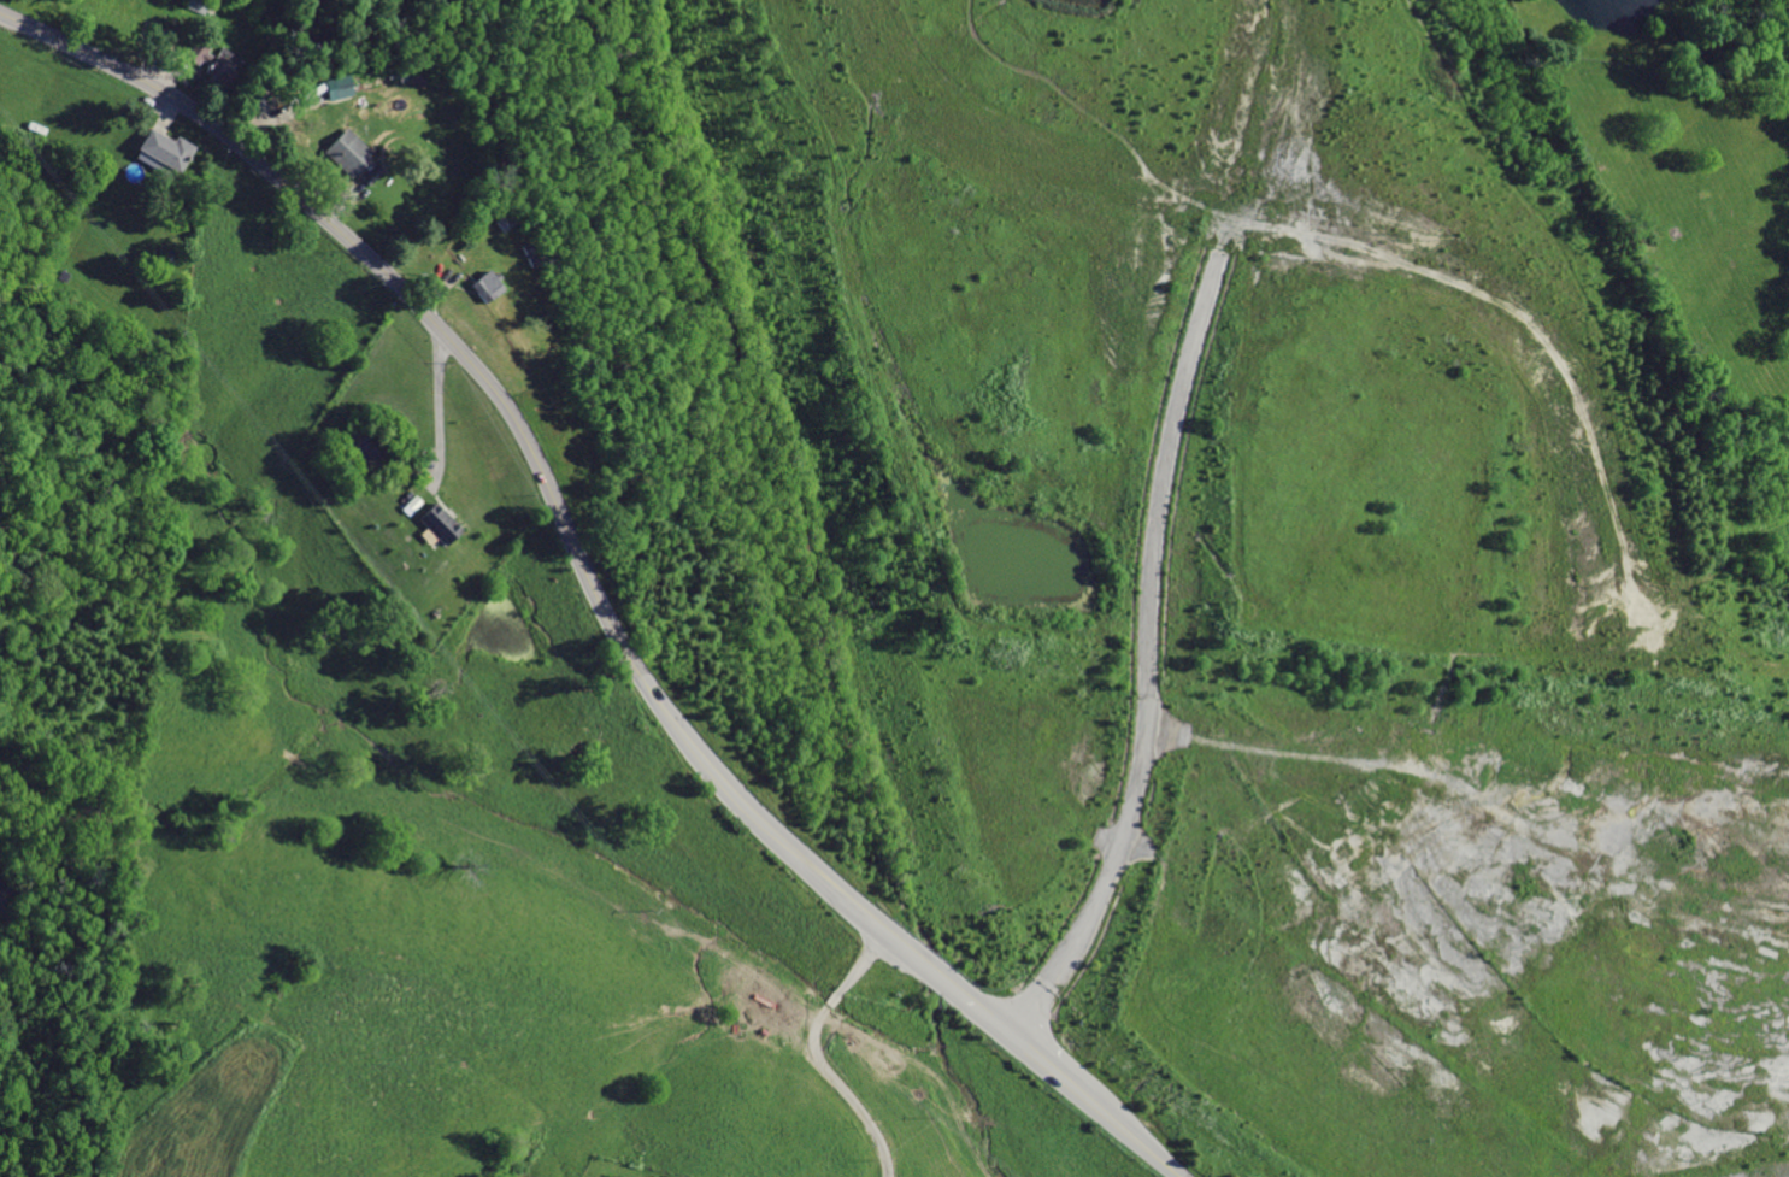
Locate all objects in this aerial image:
building: (211, 60)
building: (335, 87)
road: (1267, 108)
road: (1018, 147)
building: (164, 151)
building: (347, 151)
building: (371, 173)
road: (1228, 234)
building: (485, 286)
road: (1525, 318)
road: (492, 394)
road: (439, 408)
building: (440, 523)
road: (1148, 657)
road: (1170, 731)
road: (1125, 842)
road: (882, 931)
road: (857, 958)
road: (926, 967)
road: (830, 995)
road: (972, 1005)
road: (1048, 1065)
road: (841, 1087)
road: (1136, 1136)

